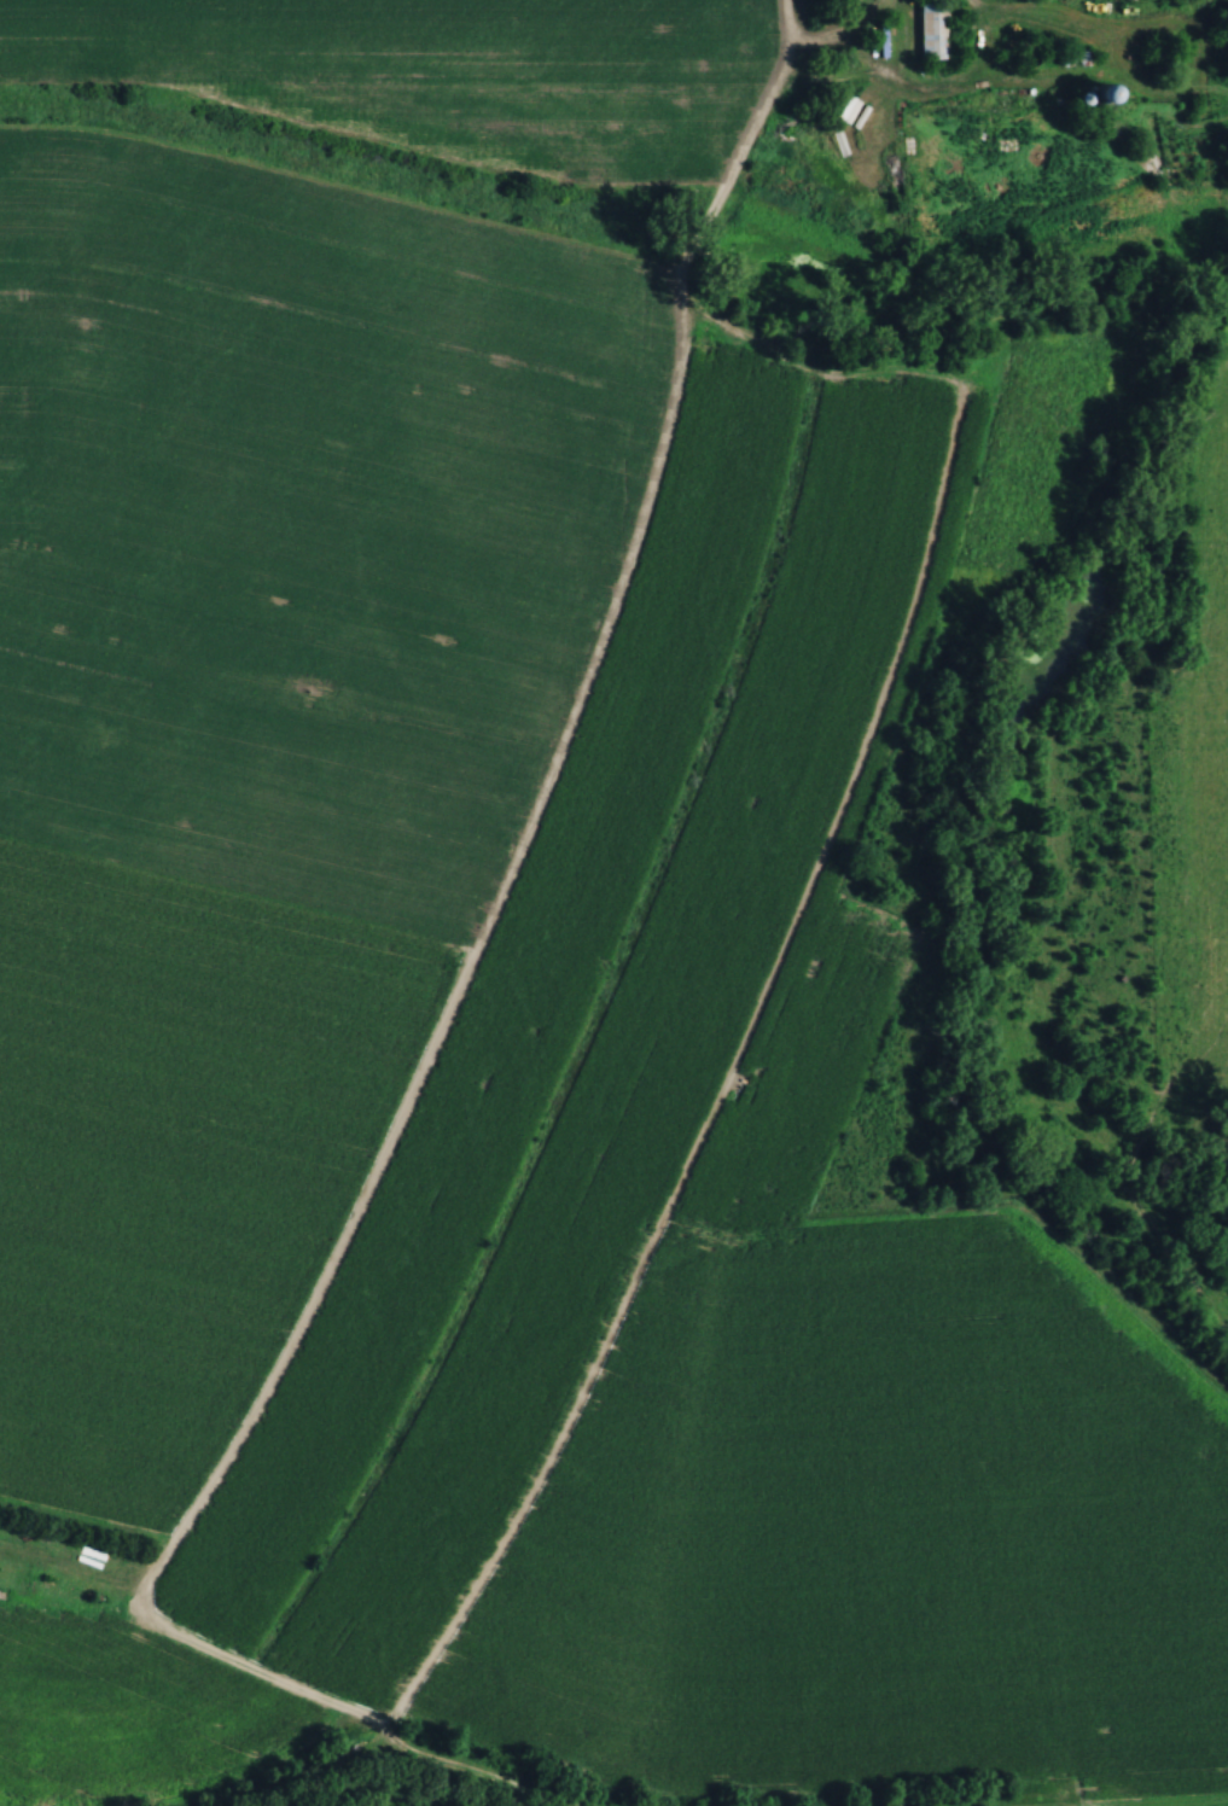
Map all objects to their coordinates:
building: (930, 29)
building: (1096, 94)
river: (1168, 275)

